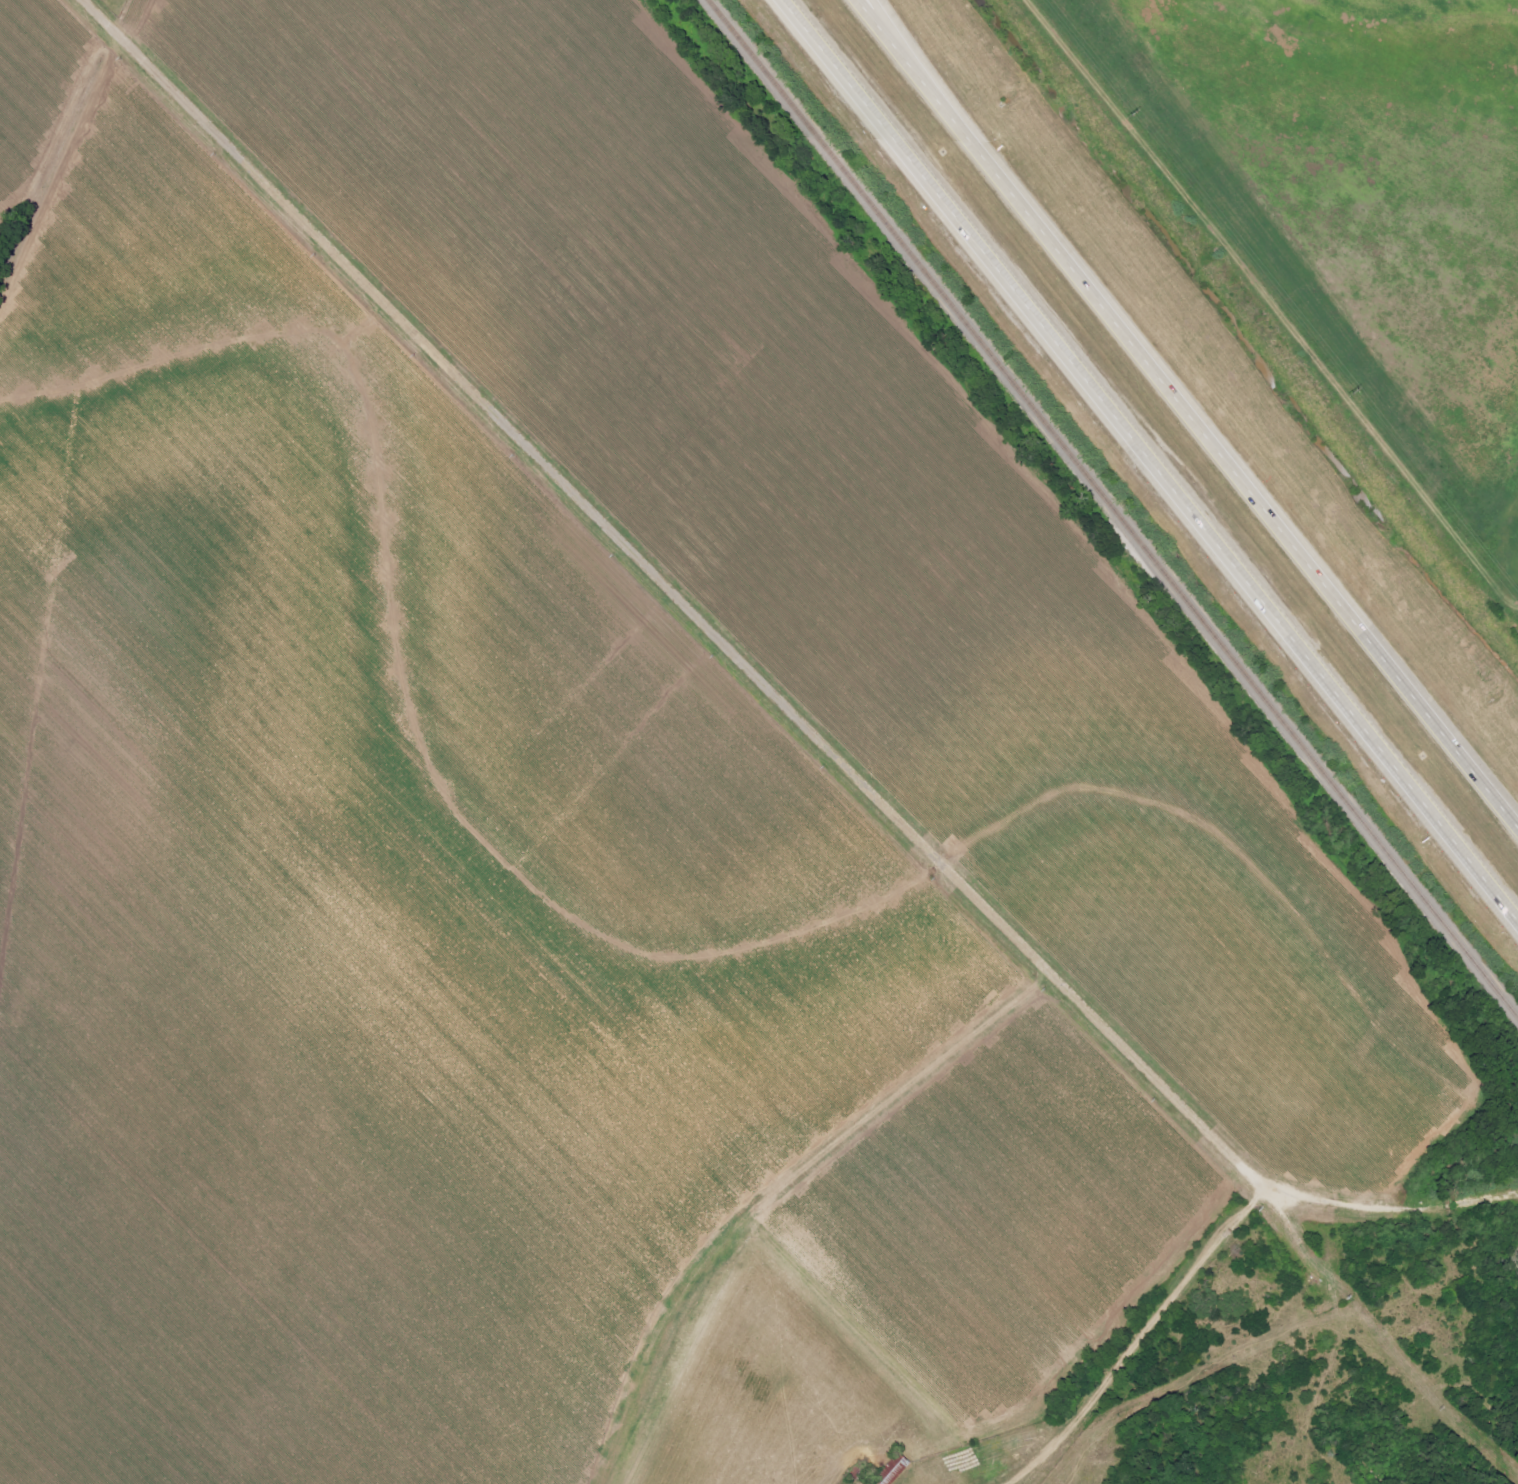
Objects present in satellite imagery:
road: (878, 22)
road: (882, 22)
road: (827, 53)
power tower: (1137, 114)
power tower: (1364, 390)
road: (1207, 430)
railway: (1113, 508)
road: (1194, 511)
road: (733, 653)
building: (891, 1471)

